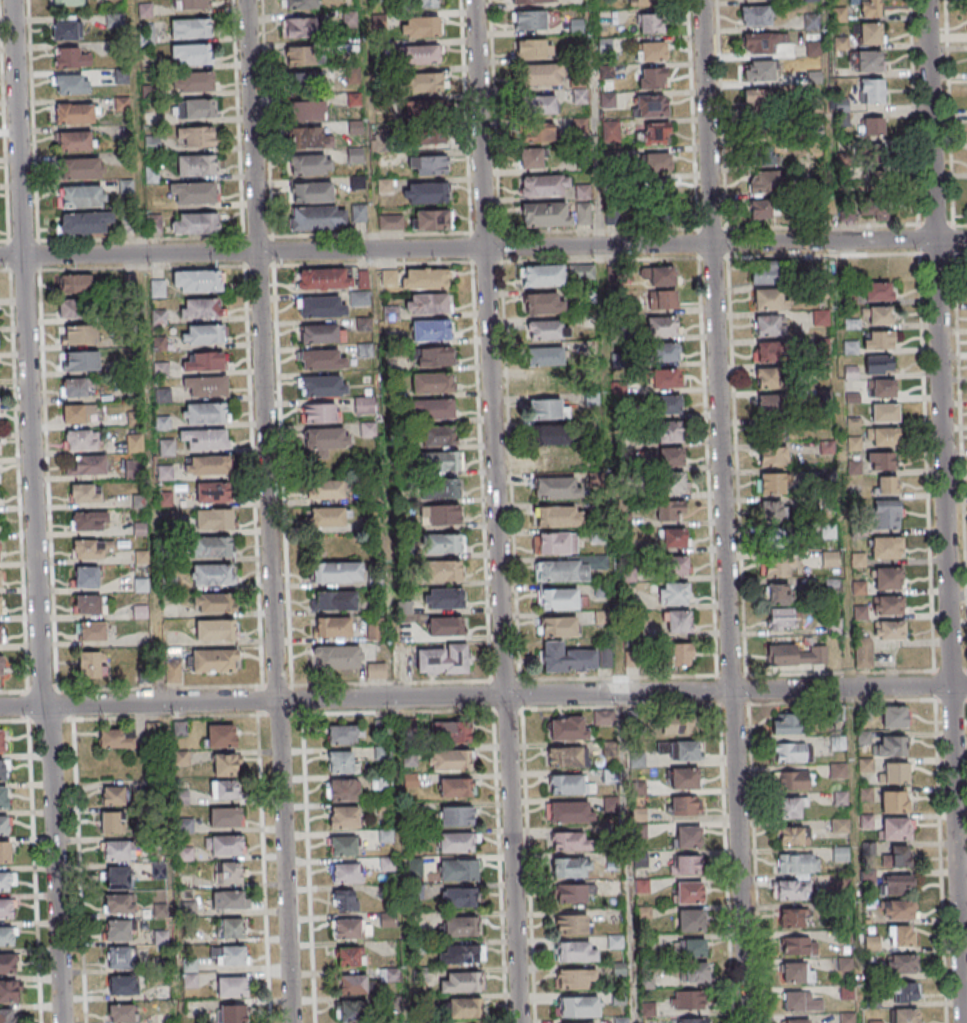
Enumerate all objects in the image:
building: (537, 1)
building: (67, 2)
building: (425, 3)
building: (640, 3)
building: (190, 4)
building: (299, 4)
building: (870, 8)
building: (756, 16)
building: (530, 20)
building: (115, 21)
building: (650, 25)
building: (298, 27)
building: (190, 28)
building: (421, 28)
building: (67, 30)
building: (870, 33)
building: (762, 44)
building: (533, 49)
building: (651, 52)
building: (192, 54)
building: (418, 55)
building: (302, 56)
building: (70, 57)
road: (365, 59)
building: (868, 60)
building: (542, 75)
building: (652, 78)
building: (193, 82)
building: (305, 82)
building: (70, 83)
building: (425, 83)
building: (872, 90)
building: (579, 97)
building: (353, 99)
building: (765, 101)
building: (122, 104)
building: (539, 105)
building: (651, 105)
building: (196, 108)
building: (309, 110)
building: (75, 113)
building: (870, 126)
building: (537, 132)
building: (656, 132)
building: (431, 134)
building: (197, 136)
building: (310, 137)
building: (75, 140)
building: (378, 143)
building: (355, 155)
building: (872, 155)
building: (531, 158)
building: (657, 162)
building: (311, 164)
building: (196, 165)
building: (428, 165)
building: (82, 168)
building: (763, 184)
building: (544, 185)
building: (126, 187)
building: (311, 192)
building: (426, 192)
building: (582, 192)
building: (195, 193)
building: (81, 197)
building: (872, 206)
building: (760, 211)
building: (359, 213)
building: (555, 214)
building: (319, 217)
building: (431, 219)
building: (390, 221)
building: (155, 223)
building: (195, 223)
building: (84, 224)
building: (127, 229)
road: (601, 233)
road: (483, 248)
building: (581, 272)
building: (767, 274)
building: (389, 276)
building: (542, 276)
building: (660, 277)
building: (324, 278)
building: (364, 278)
building: (425, 278)
building: (876, 279)
building: (199, 280)
building: (75, 284)
building: (818, 292)
building: (362, 298)
building: (847, 298)
building: (662, 300)
building: (769, 300)
building: (427, 303)
building: (543, 303)
building: (321, 306)
building: (71, 308)
building: (200, 308)
building: (391, 312)
building: (878, 315)
building: (817, 317)
building: (363, 323)
building: (770, 325)
building: (659, 327)
building: (431, 330)
building: (547, 330)
building: (202, 333)
building: (318, 333)
building: (80, 334)
building: (878, 340)
building: (159, 343)
building: (820, 346)
building: (364, 349)
building: (848, 349)
road: (143, 352)
building: (767, 352)
building: (663, 353)
building: (545, 356)
building: (432, 357)
building: (322, 359)
building: (81, 360)
building: (203, 361)
building: (878, 364)
building: (161, 370)
building: (821, 371)
building: (848, 373)
building: (767, 378)
building: (662, 379)
building: (433, 383)
building: (206, 385)
building: (323, 385)
building: (76, 387)
building: (879, 388)
building: (133, 392)
building: (163, 394)
building: (821, 396)
building: (364, 405)
building: (666, 405)
building: (434, 408)
building: (544, 409)
building: (206, 412)
building: (76, 413)
building: (319, 413)
building: (882, 414)
building: (772, 416)
building: (134, 418)
building: (162, 422)
building: (367, 429)
building: (669, 433)
building: (438, 435)
building: (548, 435)
building: (881, 437)
building: (326, 438)
building: (206, 439)
building: (80, 440)
building: (134, 442)
building: (852, 444)
building: (166, 445)
building: (825, 448)
building: (773, 456)
building: (668, 457)
building: (441, 460)
building: (881, 462)
building: (88, 464)
building: (210, 464)
building: (852, 468)
building: (134, 469)
building: (826, 474)
building: (672, 483)
building: (773, 483)
building: (887, 486)
building: (439, 488)
building: (555, 489)
building: (325, 490)
building: (213, 492)
building: (85, 493)
building: (165, 498)
building: (139, 501)
building: (671, 510)
building: (772, 510)
road: (267, 511)
road: (495, 511)
road: (722, 511)
road: (943, 511)
road: (32, 512)
building: (440, 514)
building: (885, 517)
building: (214, 518)
building: (327, 518)
building: (556, 518)
building: (89, 520)
building: (139, 528)
building: (826, 532)
building: (672, 539)
building: (444, 542)
building: (555, 543)
building: (212, 546)
building: (90, 548)
building: (883, 549)
building: (830, 559)
building: (856, 561)
building: (672, 566)
building: (778, 566)
building: (444, 569)
building: (562, 570)
building: (336, 571)
building: (212, 574)
building: (85, 576)
building: (0, 579)
building: (885, 579)
building: (857, 588)
building: (778, 594)
building: (673, 595)
building: (446, 597)
building: (558, 598)
building: (335, 599)
building: (213, 602)
building: (89, 604)
building: (0, 606)
building: (886, 606)
building: (858, 614)
building: (781, 618)
building: (676, 621)
building: (446, 625)
building: (333, 626)
building: (560, 626)
building: (832, 627)
building: (375, 628)
building: (215, 629)
building: (90, 631)
building: (887, 631)
building: (0, 634)
building: (863, 652)
building: (682, 653)
building: (605, 655)
building: (796, 655)
building: (337, 656)
building: (442, 658)
building: (567, 658)
building: (214, 660)
building: (91, 664)
building: (1, 666)
building: (376, 669)
building: (173, 676)
road: (483, 696)
building: (895, 716)
building: (603, 718)
building: (786, 723)
building: (677, 725)
building: (568, 728)
building: (451, 731)
building: (342, 734)
building: (221, 735)
building: (2, 739)
building: (115, 739)
building: (891, 745)
building: (608, 748)
building: (680, 750)
building: (791, 752)
building: (564, 756)
building: (450, 759)
building: (342, 761)
building: (225, 764)
building: (864, 764)
building: (3, 769)
building: (838, 770)
building: (894, 772)
building: (609, 775)
building: (684, 778)
building: (795, 779)
building: (566, 784)
building: (454, 786)
building: (225, 789)
building: (344, 790)
building: (113, 796)
building: (3, 797)
building: (895, 801)
building: (609, 803)
building: (684, 805)
building: (789, 807)
building: (569, 811)
building: (455, 815)
building: (343, 816)
building: (225, 817)
building: (867, 819)
building: (112, 822)
building: (4, 825)
building: (840, 825)
building: (896, 828)
building: (791, 835)
building: (687, 836)
building: (567, 840)
building: (456, 842)
building: (226, 844)
building: (342, 846)
building: (118, 851)
building: (5, 852)
building: (841, 853)
road: (31, 856)
building: (900, 856)
road: (626, 858)
building: (797, 863)
building: (387, 864)
building: (685, 864)
building: (414, 866)
building: (567, 867)
building: (458, 869)
road: (77, 871)
building: (227, 871)
building: (344, 872)
building: (118, 877)
building: (7, 881)
building: (894, 883)
building: (792, 889)
building: (688, 891)
building: (571, 892)
building: (460, 897)
building: (228, 900)
building: (344, 900)
building: (119, 903)
building: (6, 908)
building: (898, 908)
building: (795, 917)
building: (691, 919)
building: (388, 920)
building: (571, 922)
building: (457, 926)
building: (229, 927)
building: (347, 928)
building: (117, 929)
building: (901, 935)
building: (6, 936)
building: (799, 945)
building: (692, 947)
building: (576, 951)
building: (463, 953)
building: (229, 955)
building: (350, 955)
building: (118, 957)
building: (7, 963)
building: (904, 964)
building: (793, 971)
building: (694, 972)
building: (572, 979)
building: (466, 981)
building: (122, 984)
building: (352, 984)
building: (231, 986)
building: (8, 990)
building: (905, 992)
building: (688, 1000)
building: (801, 1001)
building: (577, 1006)
building: (465, 1007)
building: (353, 1010)
building: (121, 1013)
building: (234, 1013)
building: (7, 1015)
building: (905, 1016)
building: (693, 1020)
building: (797, 1021)
building: (583, 1022)

